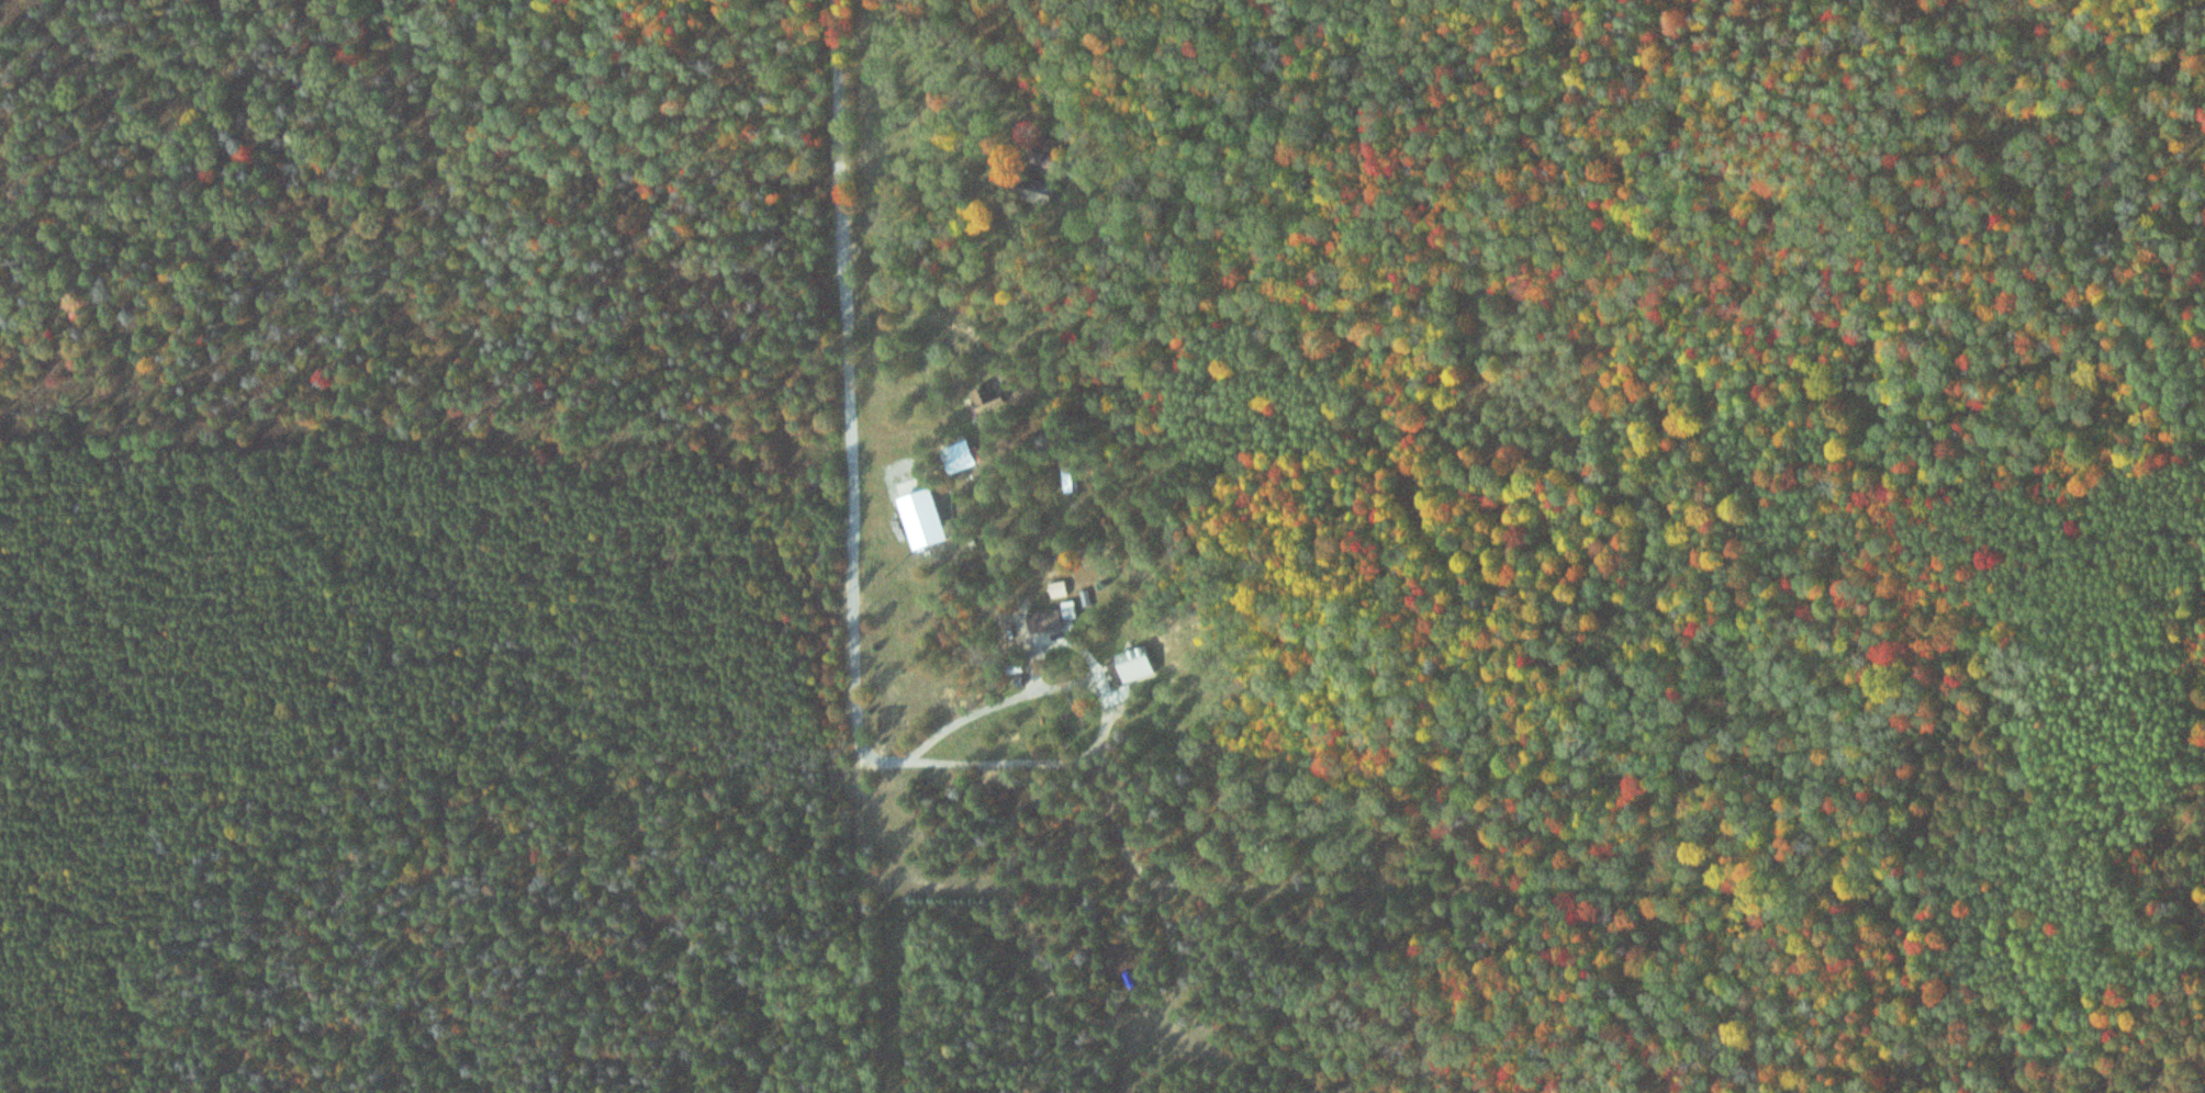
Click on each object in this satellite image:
building: (1039, 191)
building: (977, 398)
building: (955, 460)
building: (1065, 480)
road: (862, 545)
building: (1043, 621)
building: (1133, 664)
road: (1102, 897)

